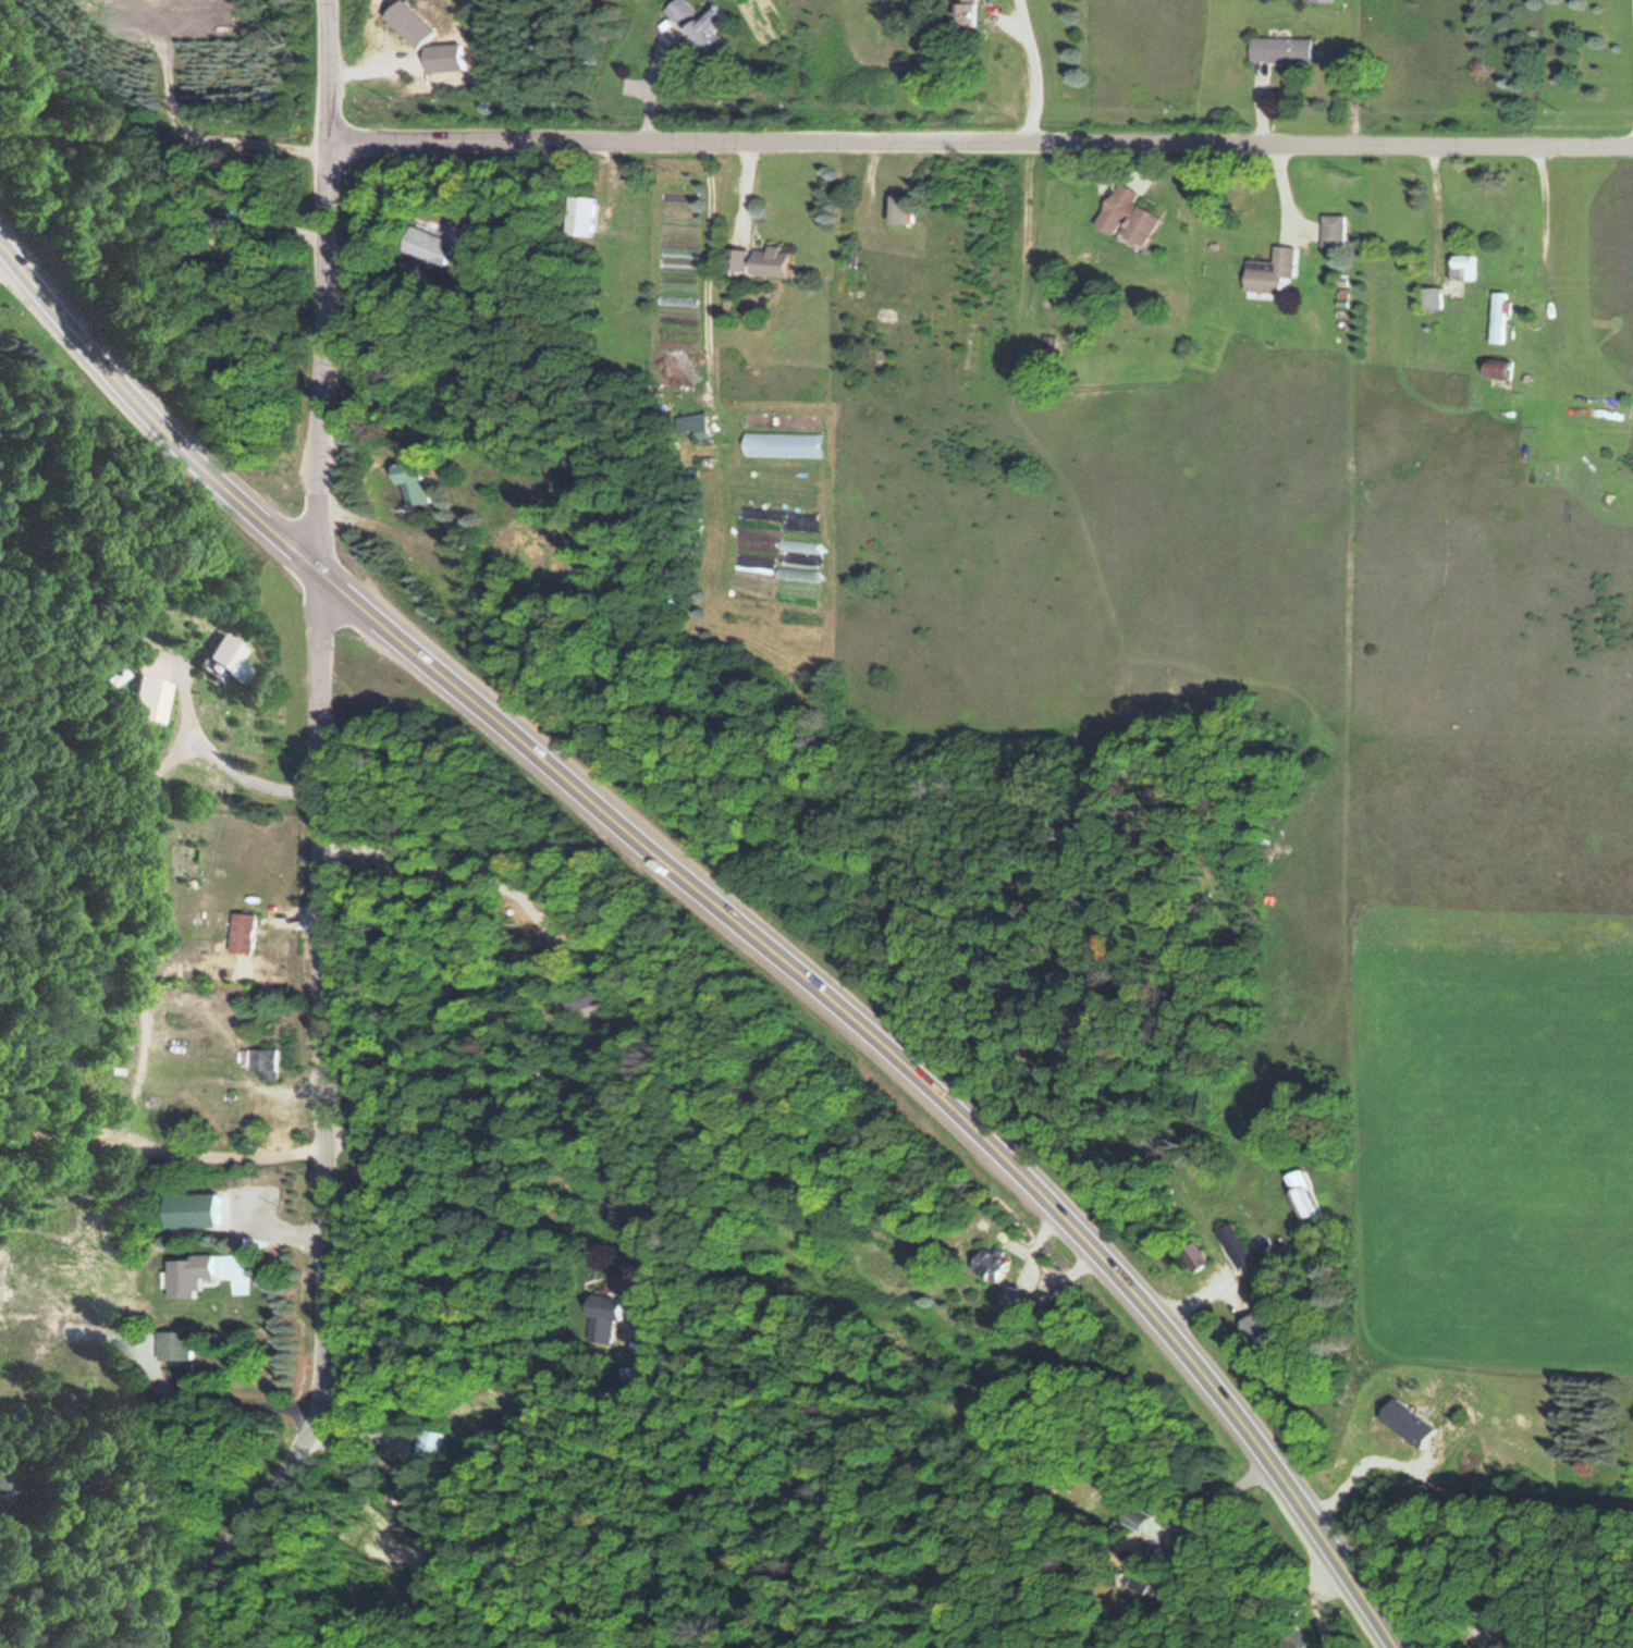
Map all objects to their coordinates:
building: (1321, 0)
building: (961, 13)
building: (698, 21)
building: (1278, 49)
road: (981, 144)
building: (898, 208)
building: (577, 214)
building: (1124, 216)
building: (1331, 230)
building: (423, 244)
building: (757, 261)
building: (1462, 266)
building: (1267, 271)
building: (1428, 302)
building: (1497, 317)
building: (1495, 368)
building: (409, 480)
building: (230, 656)
building: (149, 697)
road: (323, 851)
road: (733, 915)
building: (244, 932)
building: (254, 1061)
building: (1298, 1193)
building: (1232, 1245)
building: (1191, 1256)
building: (985, 1262)
building: (1006, 1293)
building: (603, 1314)
building: (173, 1352)
building: (420, 1458)
building: (7, 1476)
building: (1137, 1578)
building: (1297, 1637)

